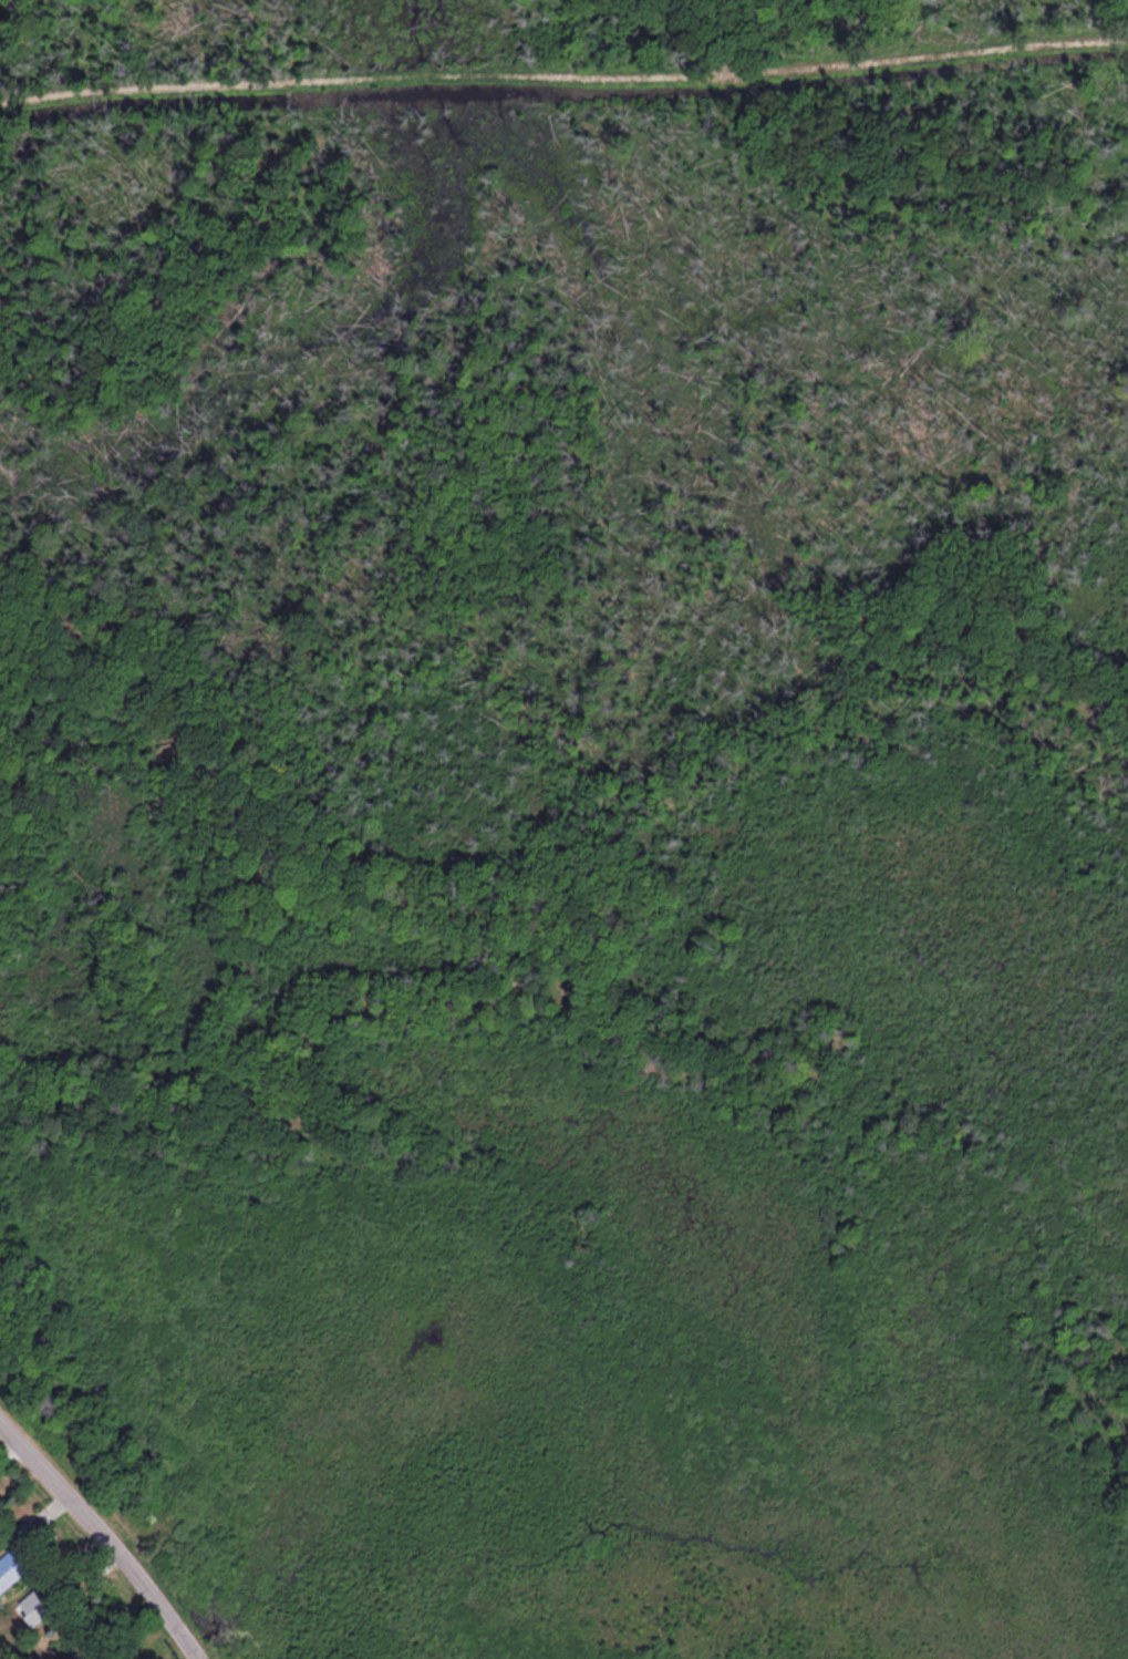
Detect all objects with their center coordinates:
road: (105, 1532)
building: (9, 1569)

